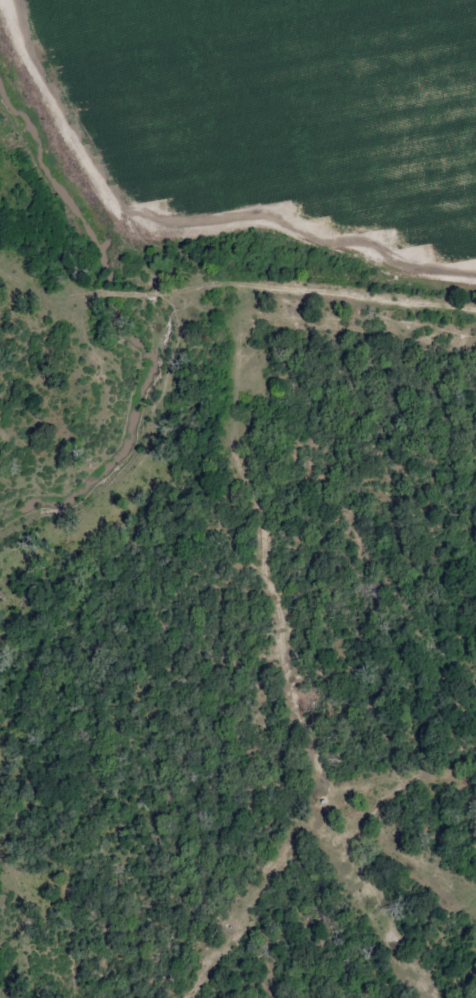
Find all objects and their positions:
road: (232, 288)

